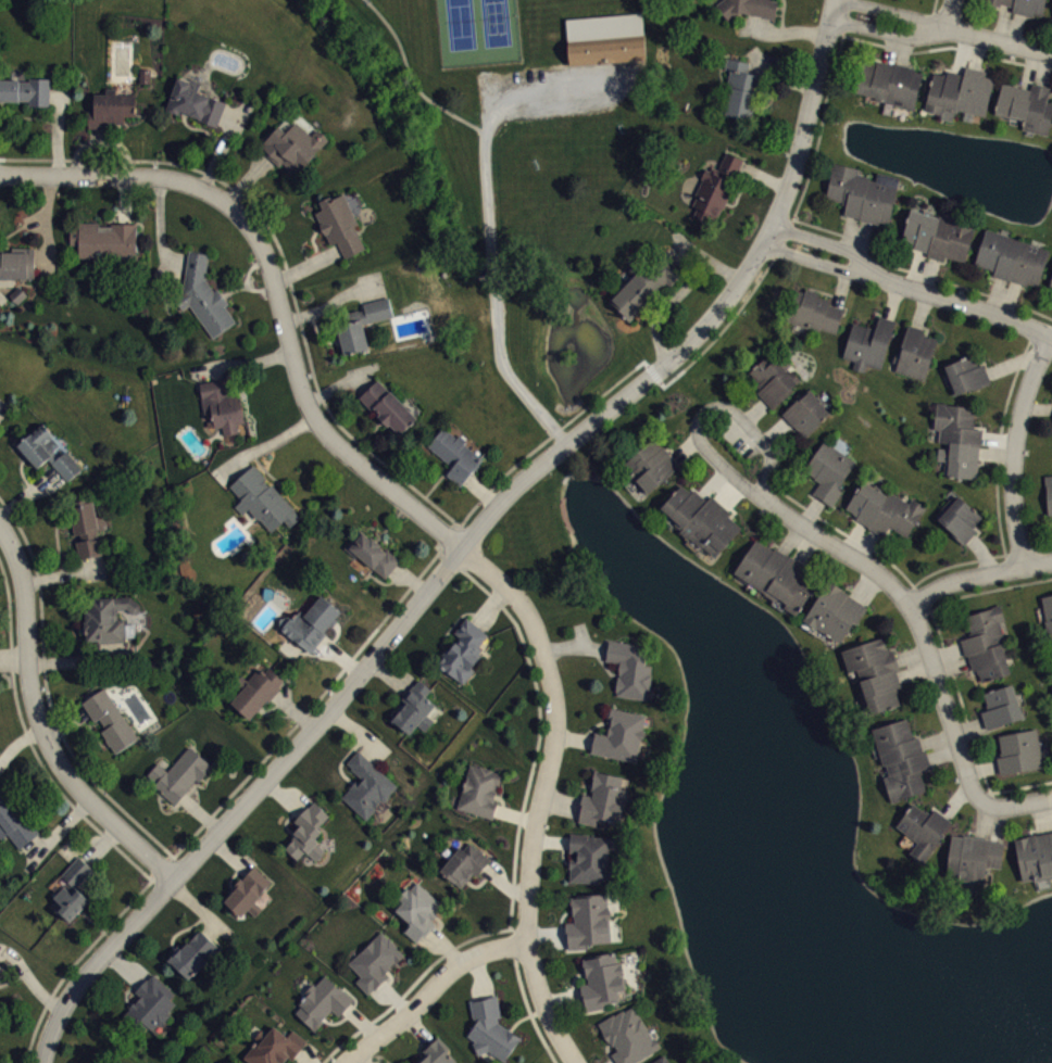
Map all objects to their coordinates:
building: (1020, 5)
building: (748, 8)
road: (894, 11)
road: (931, 11)
road: (948, 14)
road: (887, 30)
park: (478, 34)
building: (608, 34)
road: (998, 40)
road: (947, 46)
building: (610, 59)
road: (414, 77)
building: (889, 83)
building: (26, 90)
building: (742, 90)
building: (960, 91)
building: (195, 101)
building: (1026, 105)
building: (111, 109)
road: (822, 111)
building: (292, 145)
building: (716, 187)
building: (862, 192)
building: (341, 220)
road: (490, 231)
building: (939, 233)
building: (105, 241)
building: (1011, 257)
road: (285, 261)
building: (15, 264)
road: (918, 273)
building: (644, 280)
building: (1051, 284)
road: (909, 288)
road: (275, 290)
building: (203, 294)
building: (1051, 296)
building: (813, 312)
road: (736, 314)
building: (360, 322)
building: (868, 343)
building: (914, 352)
road: (242, 365)
road: (653, 374)
building: (966, 374)
building: (774, 377)
building: (222, 404)
building: (387, 406)
road: (711, 406)
building: (806, 413)
road: (561, 427)
building: (957, 439)
road: (264, 445)
road: (1014, 450)
building: (47, 452)
building: (455, 455)
building: (651, 465)
building: (828, 471)
building: (1049, 492)
building: (262, 499)
building: (884, 509)
road: (467, 514)
building: (960, 518)
building: (701, 519)
building: (87, 527)
road: (467, 542)
road: (440, 552)
building: (372, 553)
building: (778, 575)
road: (977, 575)
building: (834, 611)
building: (1048, 611)
building: (109, 619)
building: (310, 622)
building: (987, 643)
road: (924, 646)
building: (464, 650)
building: (630, 667)
building: (874, 673)
building: (256, 689)
building: (1001, 706)
road: (310, 707)
building: (415, 708)
building: (109, 719)
road: (46, 726)
building: (621, 735)
road: (538, 736)
road: (29, 742)
building: (1018, 751)
building: (901, 758)
building: (179, 774)
building: (366, 785)
building: (480, 790)
road: (542, 794)
building: (603, 798)
building: (15, 822)
building: (924, 828)
building: (308, 833)
building: (1035, 856)
building: (590, 858)
building: (972, 858)
building: (464, 864)
building: (72, 889)
building: (248, 891)
building: (418, 910)
building: (588, 920)
building: (192, 953)
road: (75, 961)
building: (375, 961)
building: (1, 969)
building: (2, 978)
building: (601, 980)
road: (413, 984)
road: (431, 992)
building: (323, 1001)
building: (151, 1005)
building: (490, 1028)
building: (628, 1035)
building: (273, 1047)
building: (436, 1052)
building: (661, 1060)

